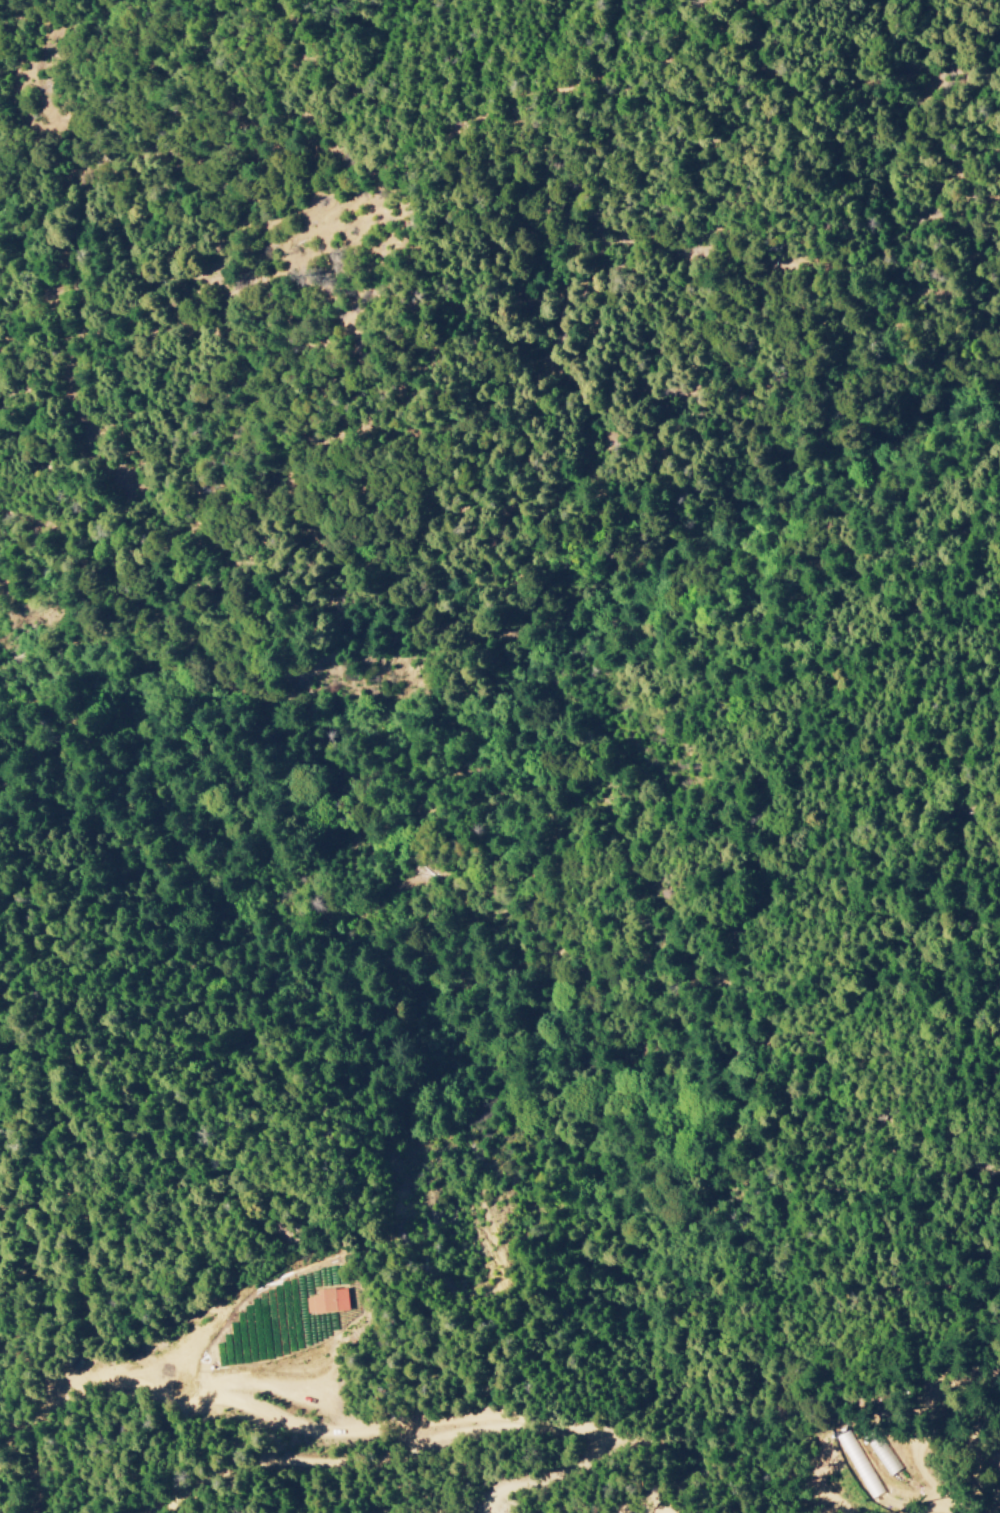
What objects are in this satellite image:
building: (328, 1302)
building: (854, 1455)
building: (883, 1456)
road: (970, 1458)
road: (808, 1499)

